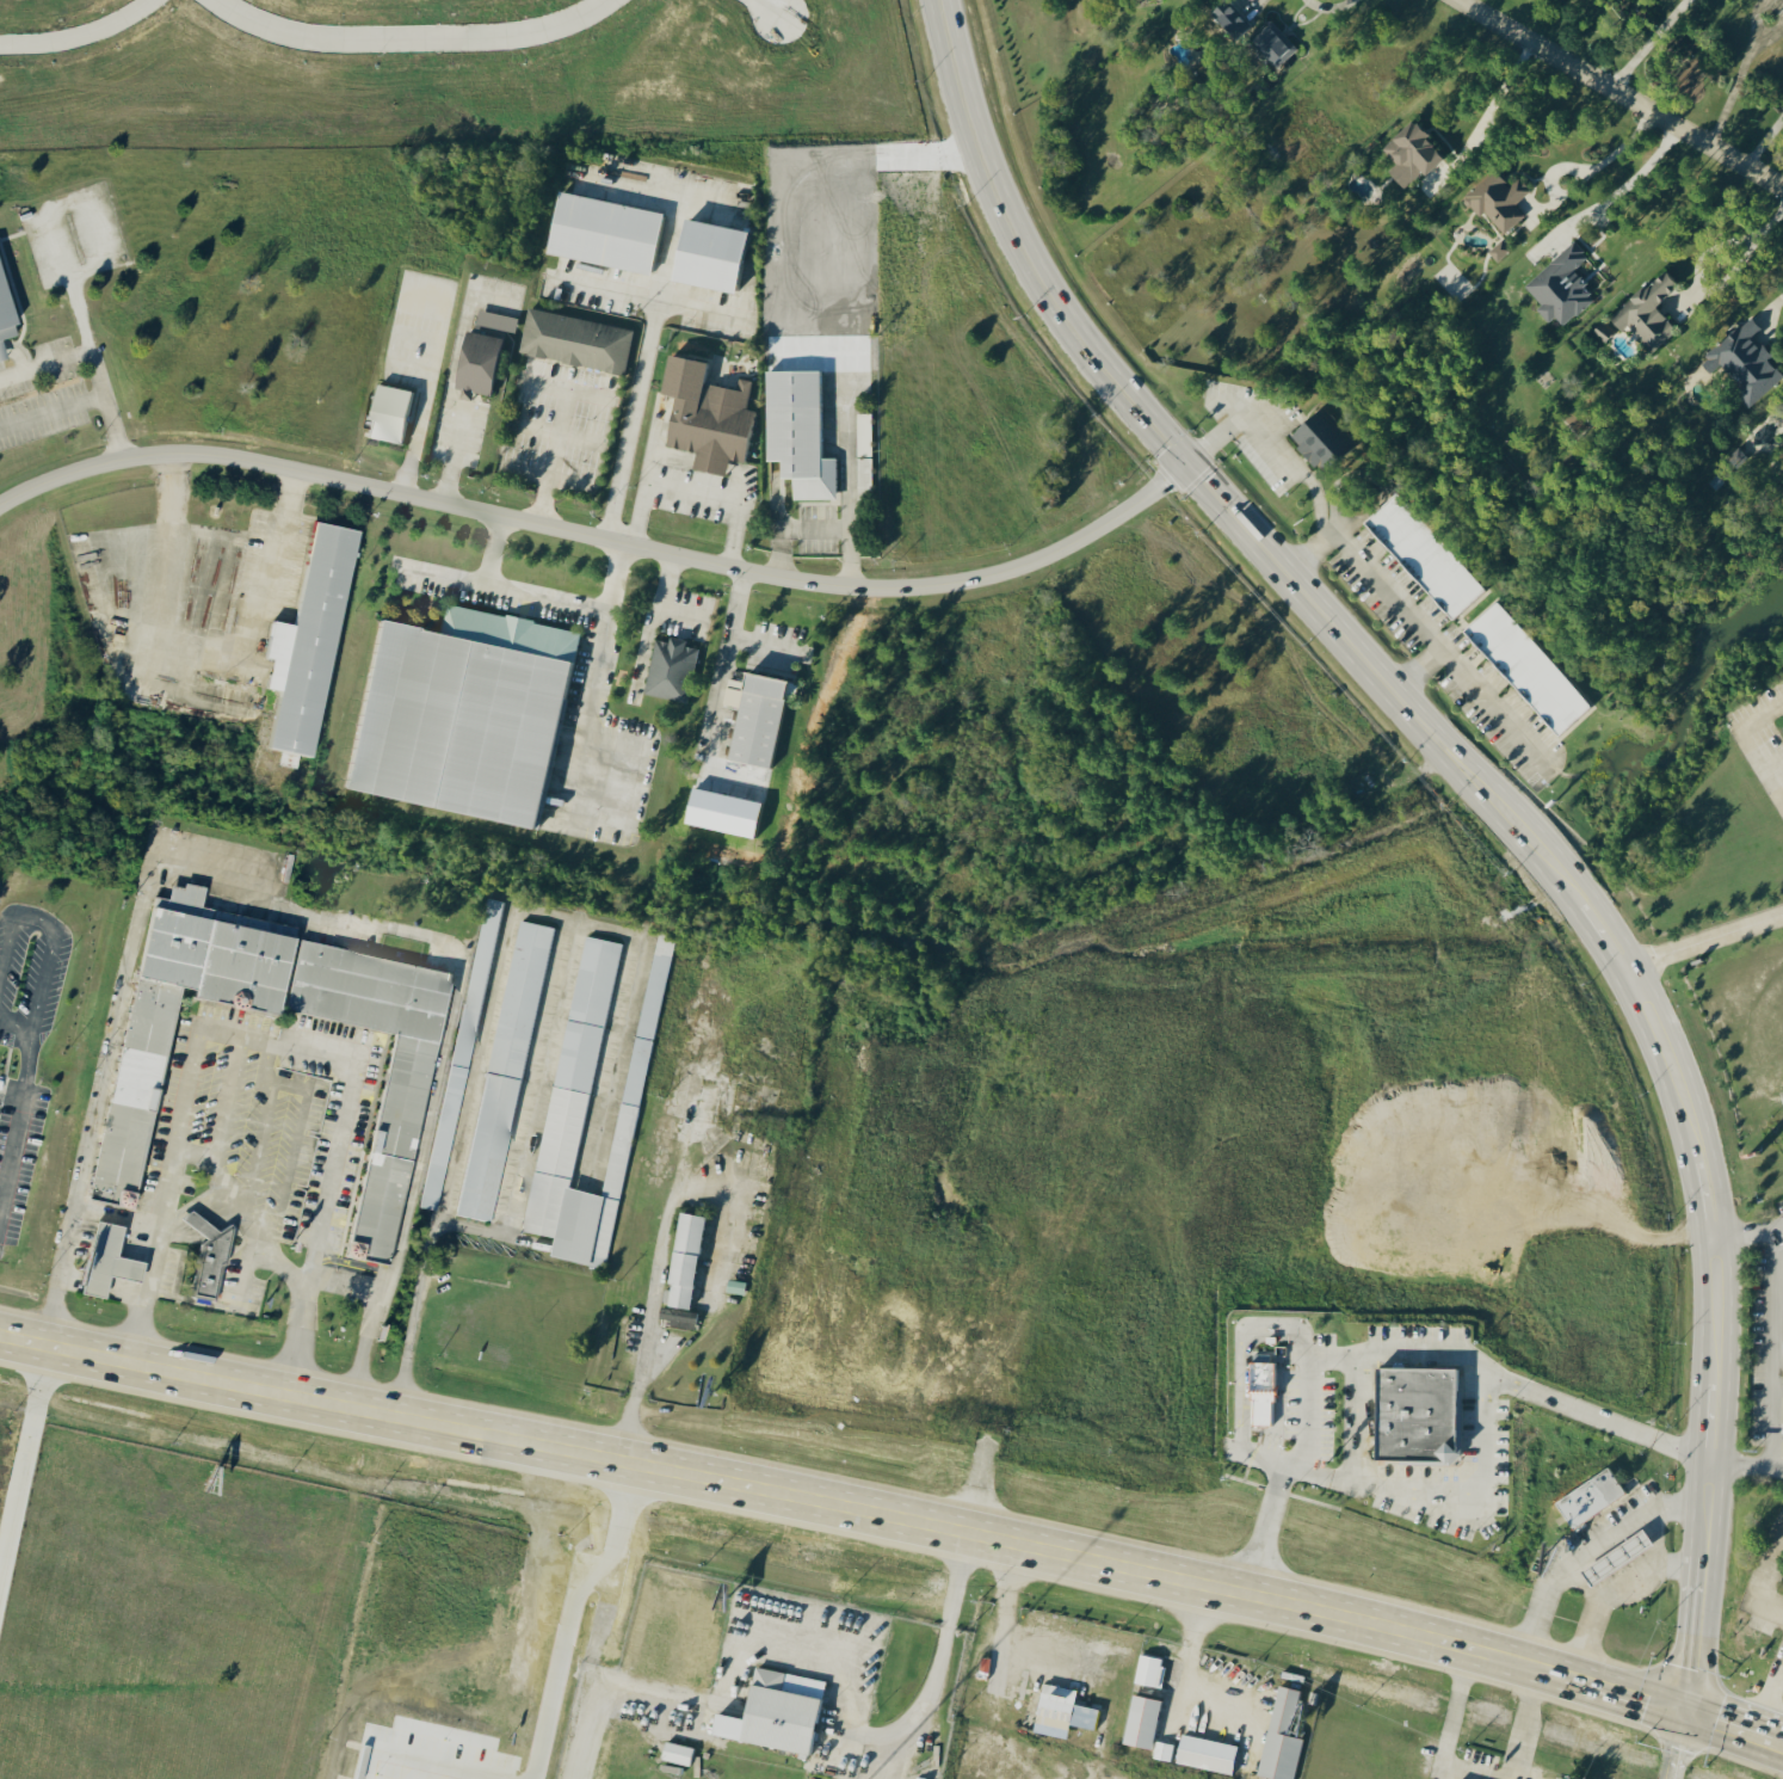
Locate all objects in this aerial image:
road: (1261, 6)
road: (1334, 12)
building: (1228, 18)
road: (1642, 43)
building: (1275, 44)
road: (1736, 72)
road: (1617, 94)
road: (1489, 125)
road: (1763, 141)
building: (1409, 153)
road: (1603, 158)
road: (1625, 181)
road: (658, 186)
building: (1497, 199)
building: (601, 233)
road: (1719, 247)
building: (1498, 250)
building: (707, 254)
building: (1560, 285)
road: (406, 289)
road: (644, 296)
road: (1773, 300)
building: (1646, 312)
building: (4, 320)
building: (574, 340)
building: (480, 353)
building: (0, 355)
road: (91, 359)
building: (1742, 361)
road: (638, 364)
road: (562, 387)
road: (446, 400)
road: (50, 411)
building: (385, 413)
building: (704, 415)
building: (796, 432)
road: (417, 433)
building: (1320, 438)
road: (549, 456)
road: (692, 490)
road: (847, 491)
road: (786, 525)
road: (600, 538)
road: (491, 552)
building: (1421, 554)
road: (1310, 558)
road: (1363, 568)
road: (508, 592)
building: (302, 645)
road: (200, 652)
building: (1525, 666)
building: (670, 669)
road: (1418, 675)
road: (596, 683)
building: (461, 714)
building: (754, 718)
road: (1746, 747)
road: (1770, 761)
road: (1458, 767)
road: (1782, 808)
road: (290, 910)
road: (1702, 935)
road: (49, 949)
road: (494, 975)
building: (457, 1055)
road: (329, 1059)
building: (573, 1065)
building: (501, 1069)
road: (227, 1096)
building: (129, 1103)
road: (530, 1112)
road: (17, 1116)
building: (389, 1141)
road: (212, 1157)
road: (1778, 1231)
road: (1742, 1239)
road: (658, 1249)
building: (206, 1254)
building: (104, 1258)
building: (683, 1260)
road: (1777, 1266)
road: (341, 1281)
road: (1777, 1306)
building: (678, 1316)
road: (1245, 1328)
road: (1777, 1347)
parking lot: (1764, 1350)
road: (1770, 1350)
road: (1776, 1391)
building: (1261, 1392)
road: (1307, 1410)
building: (1413, 1410)
road: (1355, 1418)
road: (1776, 1430)
road: (1739, 1467)
road: (1776, 1470)
road: (772, 1489)
building: (1588, 1496)
road: (1260, 1527)
road: (1656, 1532)
road: (1583, 1549)
building: (1616, 1556)
gas station: (1616, 1556)
road: (1581, 1578)
road: (1759, 1578)
road: (1005, 1586)
road: (1609, 1588)
road: (940, 1637)
road: (1103, 1666)
building: (1148, 1669)
road: (1186, 1672)
road: (1689, 1672)
road: (1612, 1687)
road: (1766, 1693)
road: (724, 1700)
building: (1062, 1705)
traffic signals: (1684, 1710)
building: (773, 1711)
building: (1141, 1719)
road: (1525, 1725)
road: (1733, 1728)
road: (1449, 1730)
building: (1279, 1737)
road: (988, 1738)
road: (1674, 1744)
building: (675, 1752)
building: (1204, 1753)
road: (906, 1761)

